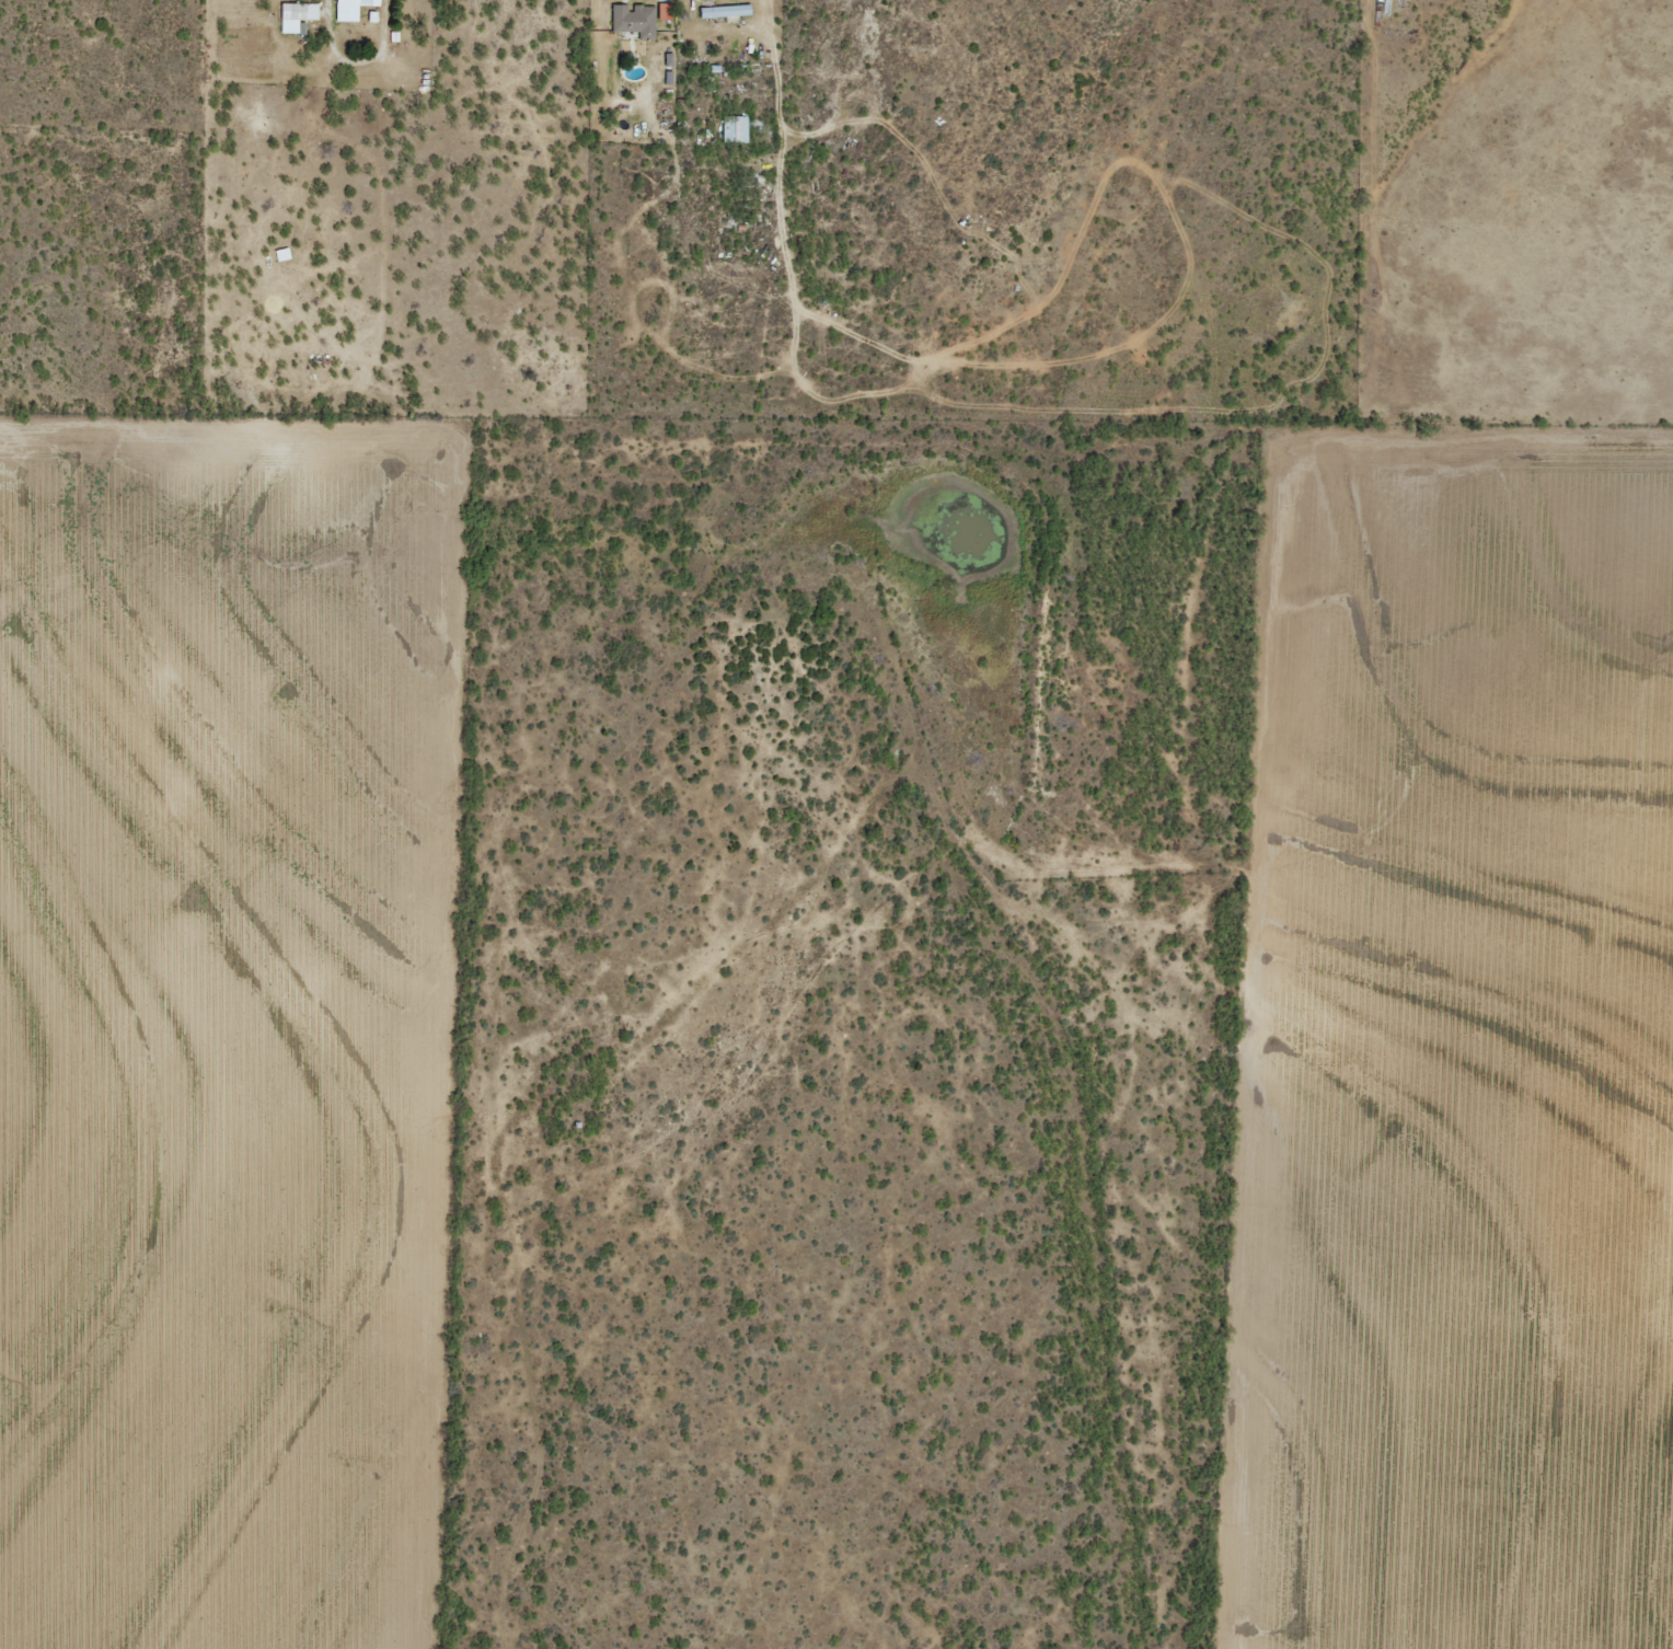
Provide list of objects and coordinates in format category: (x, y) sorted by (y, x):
building: (349, 9)
building: (724, 11)
building: (664, 12)
building: (297, 16)
building: (634, 20)
building: (734, 130)
building: (281, 255)

